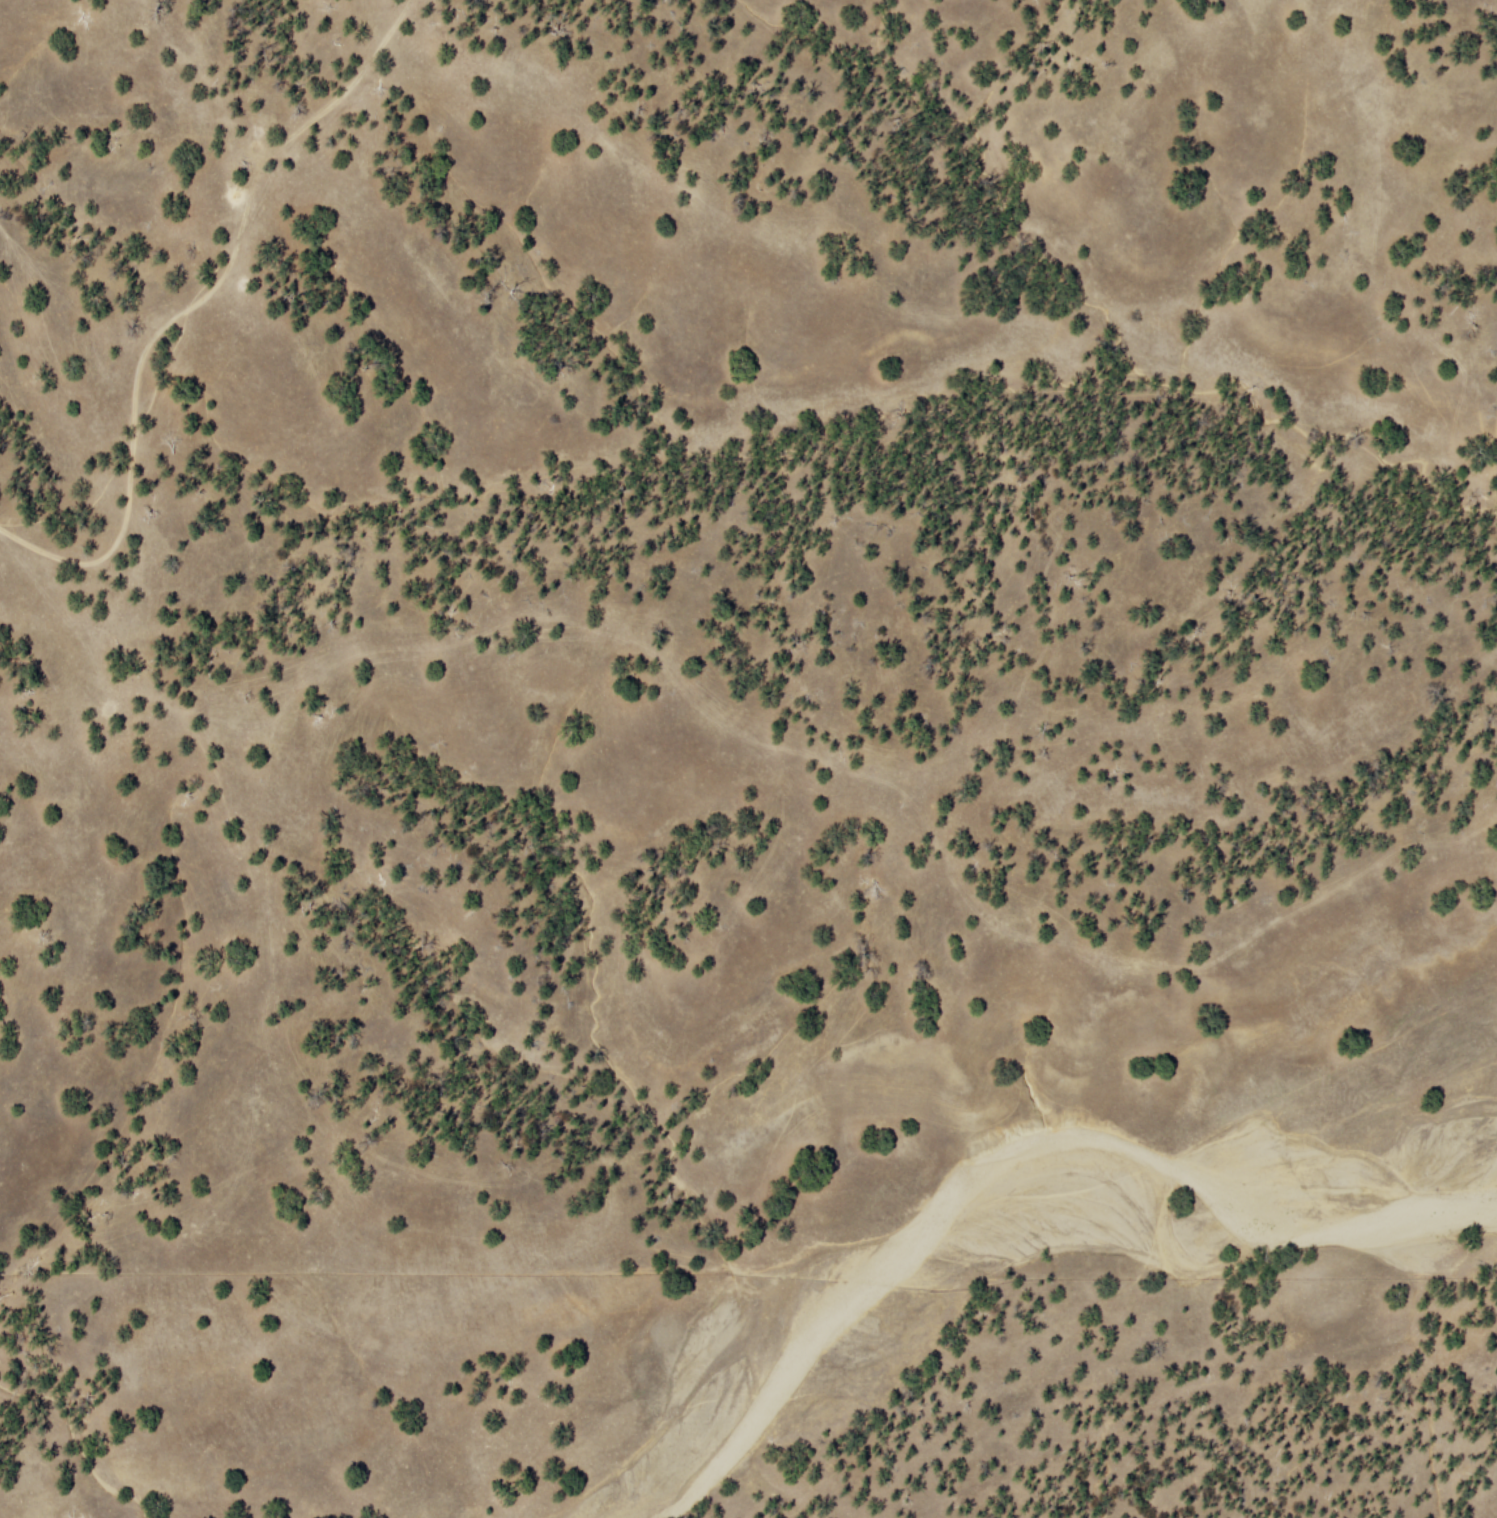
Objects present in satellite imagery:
road: (188, 308)
river: (1015, 1152)

